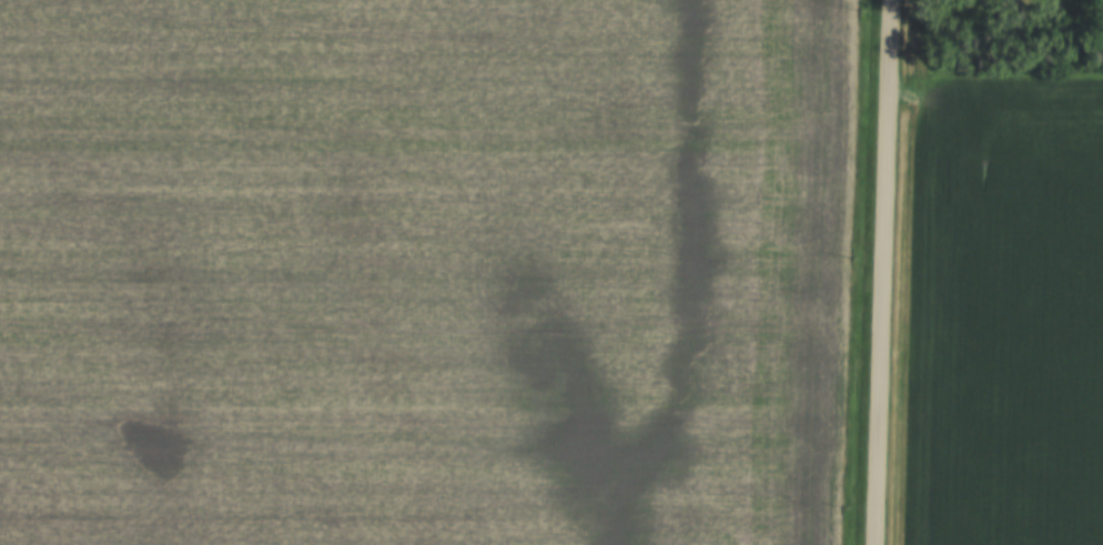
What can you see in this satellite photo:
crop: (425, 271)
road: (886, 272)
crop: (1006, 311)

